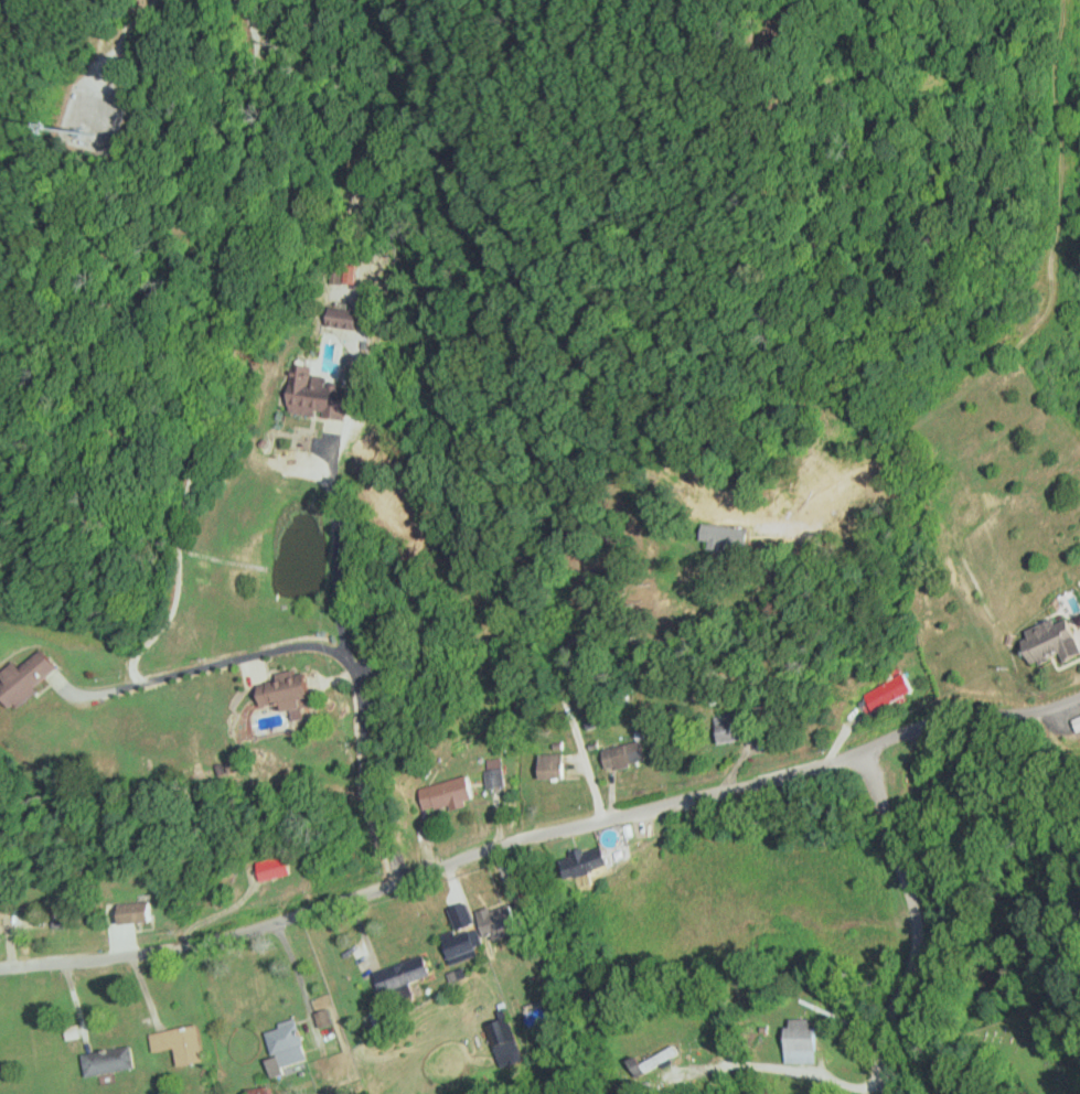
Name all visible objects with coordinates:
building: (351, 318)
building: (324, 395)
road: (339, 561)
building: (1048, 642)
road: (324, 647)
building: (970, 654)
building: (33, 678)
building: (295, 691)
building: (897, 693)
building: (1078, 721)
building: (742, 729)
building: (630, 755)
building: (559, 770)
building: (452, 794)
road: (541, 832)
building: (594, 862)
building: (281, 868)
building: (142, 913)
building: (4, 920)
road: (918, 920)
building: (506, 921)
building: (469, 943)
building: (410, 974)
building: (288, 1034)
building: (504, 1036)
building: (800, 1040)
building: (184, 1044)
building: (113, 1062)
building: (272, 1093)

